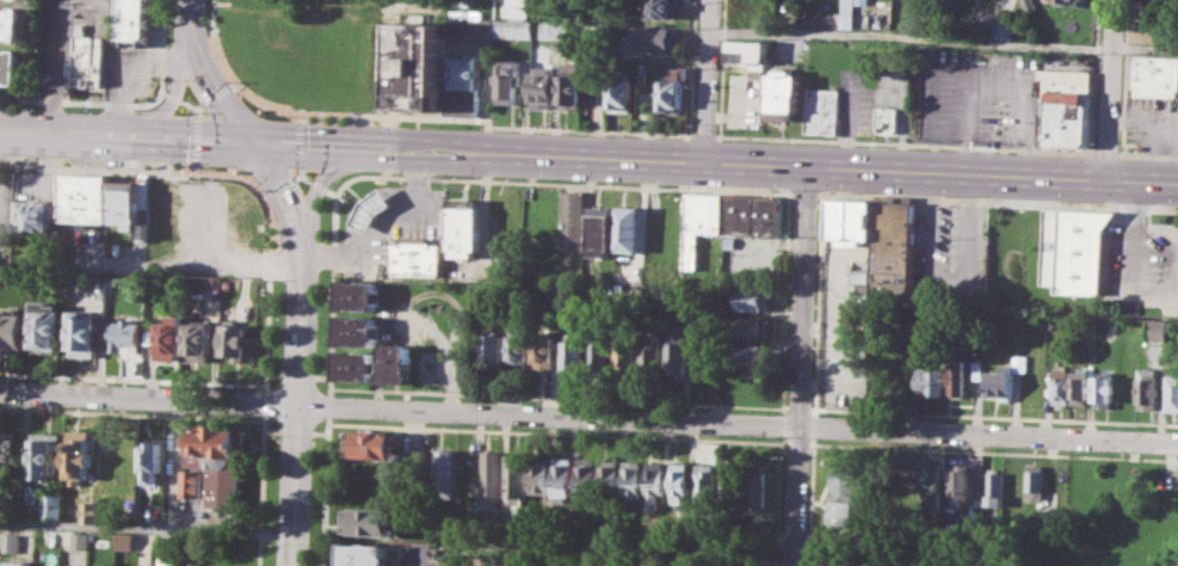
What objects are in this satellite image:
road: (87, 1)
building: (1066, 1)
building: (1028, 5)
building: (518, 7)
building: (659, 7)
building: (1152, 7)
building: (259, 8)
building: (849, 11)
building: (808, 17)
road: (187, 18)
building: (10, 21)
building: (136, 23)
building: (470, 25)
building: (975, 25)
building: (516, 29)
building: (1001, 29)
building: (554, 30)
building: (1153, 30)
road: (911, 36)
building: (656, 38)
road: (1145, 47)
building: (748, 49)
building: (92, 60)
building: (419, 64)
building: (10, 66)
road: (693, 67)
road: (721, 68)
building: (678, 70)
building: (1155, 75)
building: (508, 80)
road: (707, 80)
road: (232, 84)
building: (465, 84)
building: (571, 85)
building: (543, 86)
road: (1110, 90)
building: (622, 91)
road: (165, 93)
road: (210, 93)
road: (172, 96)
road: (216, 96)
building: (783, 96)
building: (672, 97)
road: (171, 98)
road: (129, 104)
road: (190, 105)
building: (821, 109)
building: (1066, 109)
road: (197, 112)
road: (421, 115)
road: (300, 116)
building: (887, 119)
road: (124, 134)
road: (707, 135)
road: (195, 139)
traffic signals: (251, 140)
road: (298, 144)
road: (908, 144)
road: (1108, 152)
road: (1147, 153)
road: (714, 160)
road: (195, 166)
road: (298, 171)
road: (234, 172)
road: (301, 176)
road: (461, 178)
road: (277, 184)
road: (316, 185)
road: (316, 187)
road: (282, 190)
road: (331, 191)
road: (263, 192)
road: (807, 193)
road: (998, 202)
building: (371, 208)
gas station: (371, 208)
building: (130, 209)
building: (705, 213)
building: (752, 215)
building: (36, 216)
building: (851, 219)
building: (574, 220)
parking lot: (6, 223)
building: (464, 226)
road: (382, 228)
building: (630, 228)
building: (603, 230)
building: (894, 248)
building: (1074, 250)
parking lot: (950, 253)
building: (414, 256)
parking lot: (1145, 263)
road: (946, 289)
building: (357, 294)
building: (568, 299)
building: (753, 299)
road: (783, 299)
road: (816, 303)
building: (47, 325)
building: (752, 327)
building: (11, 330)
building: (356, 330)
building: (1157, 330)
building: (85, 333)
building: (125, 336)
parking lot: (840, 337)
building: (169, 338)
building: (234, 339)
building: (198, 342)
building: (493, 350)
building: (519, 350)
building: (573, 350)
building: (544, 351)
building: (751, 353)
building: (649, 355)
building: (624, 357)
building: (599, 358)
building: (674, 358)
building: (395, 362)
building: (354, 364)
road: (800, 364)
road: (271, 374)
road: (295, 374)
building: (954, 374)
building: (1005, 375)
road: (320, 376)
road: (130, 379)
building: (927, 380)
building: (1057, 386)
building: (1078, 387)
building: (1147, 388)
building: (1102, 390)
building: (1171, 394)
road: (555, 396)
road: (147, 398)
road: (263, 401)
road: (326, 405)
road: (295, 406)
road: (795, 406)
road: (130, 413)
road: (545, 414)
road: (992, 416)
road: (813, 425)
road: (270, 430)
road: (294, 430)
road: (316, 432)
road: (613, 435)
road: (987, 435)
road: (781, 442)
road: (795, 442)
building: (369, 443)
building: (7, 450)
road: (992, 450)
building: (78, 454)
building: (45, 455)
building: (150, 460)
building: (411, 460)
building: (217, 461)
building: (442, 472)
building: (489, 473)
building: (536, 473)
building: (513, 474)
building: (560, 475)
building: (582, 476)
building: (606, 478)
building: (630, 478)
building: (1031, 480)
building: (678, 481)
building: (704, 481)
building: (729, 481)
building: (958, 481)
building: (190, 482)
building: (653, 482)
building: (931, 482)
building: (755, 485)
building: (908, 486)
building: (992, 487)
road: (259, 488)
road: (322, 490)
building: (841, 496)
road: (809, 500)
building: (53, 504)
building: (91, 510)
building: (369, 521)
road: (144, 525)
building: (79, 540)
building: (10, 542)
building: (124, 542)
building: (364, 554)
parking lot: (414, 555)
building: (166, 558)
building: (824, 558)
building: (19, 562)
building: (47, 565)

